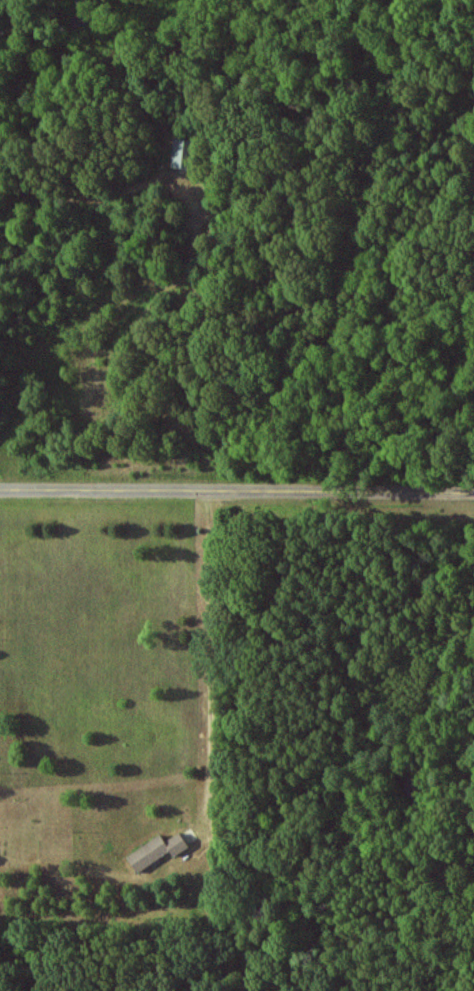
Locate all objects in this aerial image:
building: (183, 153)
road: (237, 492)
building: (157, 850)

